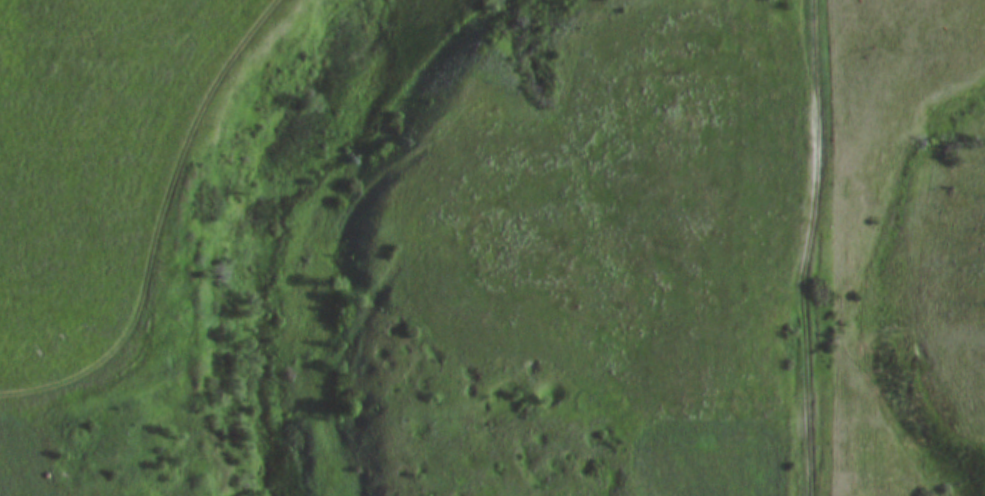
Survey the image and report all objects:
road: (808, 247)

